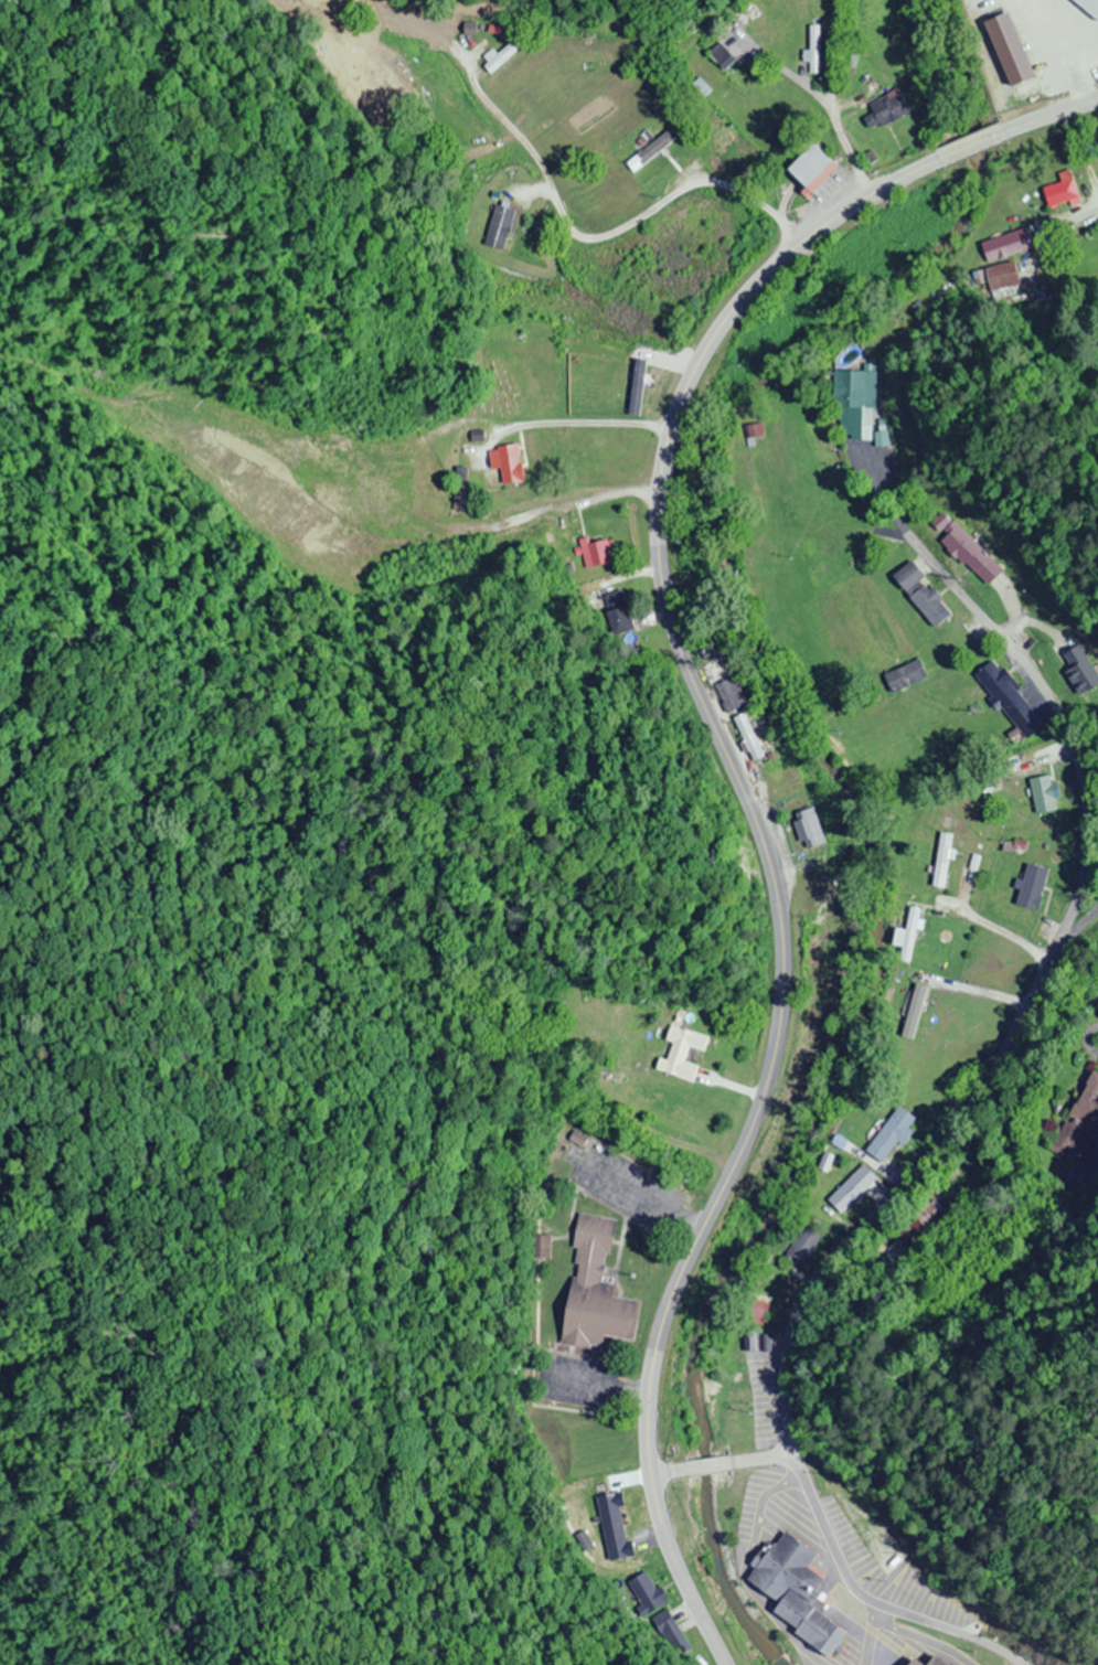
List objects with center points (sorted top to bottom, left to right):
building: (1088, 7)
building: (755, 23)
building: (814, 47)
building: (718, 54)
building: (499, 56)
building: (849, 58)
building: (885, 108)
road: (1051, 115)
road: (976, 145)
building: (648, 150)
building: (807, 168)
building: (1059, 190)
building: (498, 226)
building: (1004, 244)
building: (1000, 276)
building: (854, 403)
building: (823, 444)
building: (504, 462)
building: (962, 547)
building: (595, 551)
building: (920, 594)
building: (616, 610)
building: (904, 674)
building: (999, 687)
building: (731, 693)
building: (747, 736)
building: (793, 775)
building: (1041, 793)
building: (916, 824)
building: (809, 826)
road: (764, 856)
building: (942, 860)
building: (815, 863)
building: (1030, 885)
building: (907, 936)
building: (678, 1052)
road: (991, 1065)
building: (667, 1101)
building: (1078, 1119)
building: (889, 1133)
building: (574, 1143)
building: (844, 1194)
building: (921, 1225)
building: (801, 1242)
building: (537, 1253)
building: (761, 1287)
building: (593, 1294)
building: (754, 1314)
road: (756, 1459)
road: (704, 1465)
road: (668, 1470)
building: (610, 1530)
building: (797, 1593)
building: (654, 1620)
road: (946, 1623)
road: (863, 1641)
building: (932, 1664)

